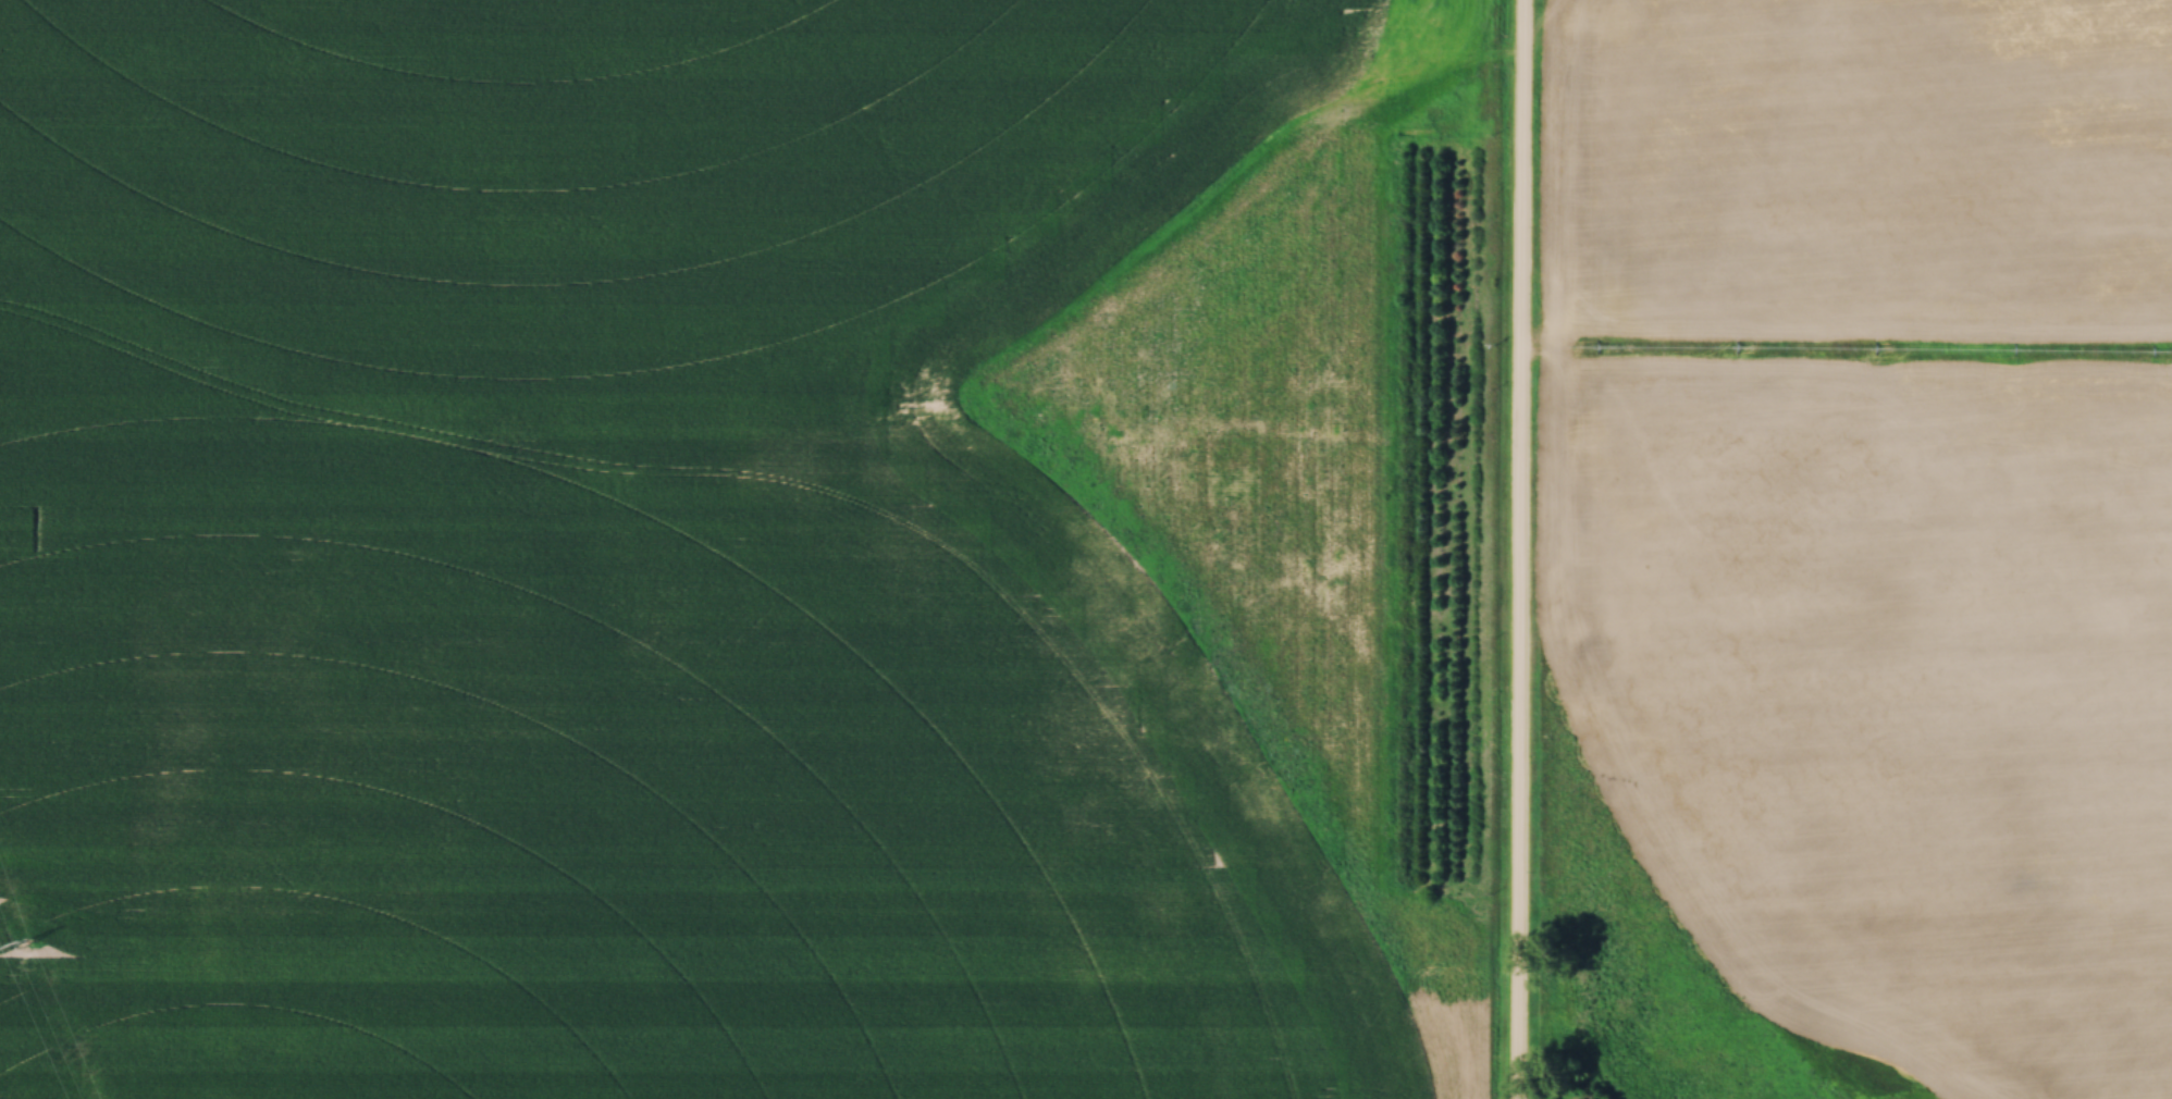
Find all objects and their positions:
road: (1521, 548)
power tower: (28, 948)

